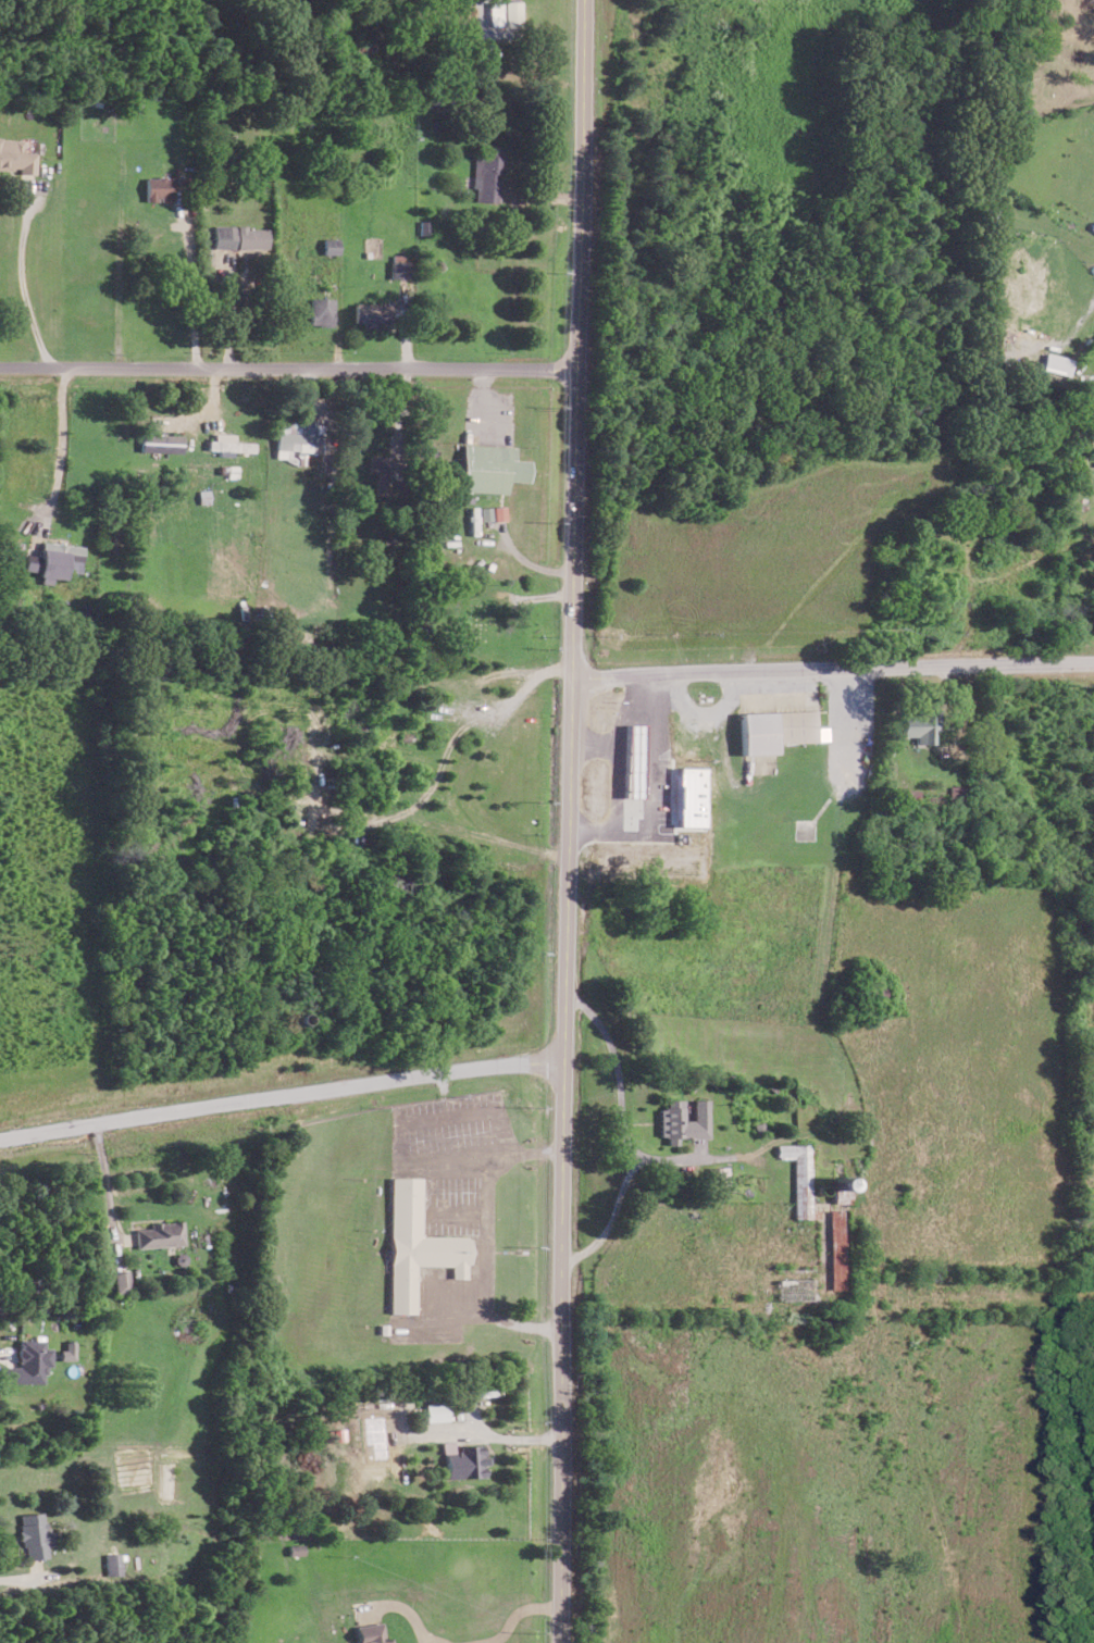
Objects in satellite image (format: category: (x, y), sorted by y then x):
building: (505, 12)
building: (16, 155)
building: (487, 174)
building: (159, 188)
building: (239, 236)
building: (331, 245)
building: (399, 265)
road: (17, 285)
road: (188, 289)
building: (322, 311)
building: (372, 312)
building: (1057, 363)
road: (285, 369)
building: (298, 438)
building: (162, 441)
building: (224, 443)
road: (58, 447)
building: (490, 468)
building: (381, 471)
building: (492, 512)
building: (54, 560)
road: (831, 668)
building: (919, 725)
building: (778, 729)
building: (634, 760)
building: (906, 794)
building: (692, 796)
road: (565, 821)
road: (279, 1095)
building: (682, 1120)
road: (405, 1121)
road: (620, 1121)
building: (718, 1175)
building: (799, 1177)
road: (107, 1181)
road: (611, 1218)
building: (161, 1234)
road: (483, 1234)
building: (417, 1245)
building: (122, 1281)
building: (70, 1349)
building: (30, 1361)
road: (495, 1434)
building: (462, 1460)
building: (33, 1534)
building: (113, 1564)
road: (511, 1613)
building: (371, 1633)
road: (422, 1635)

